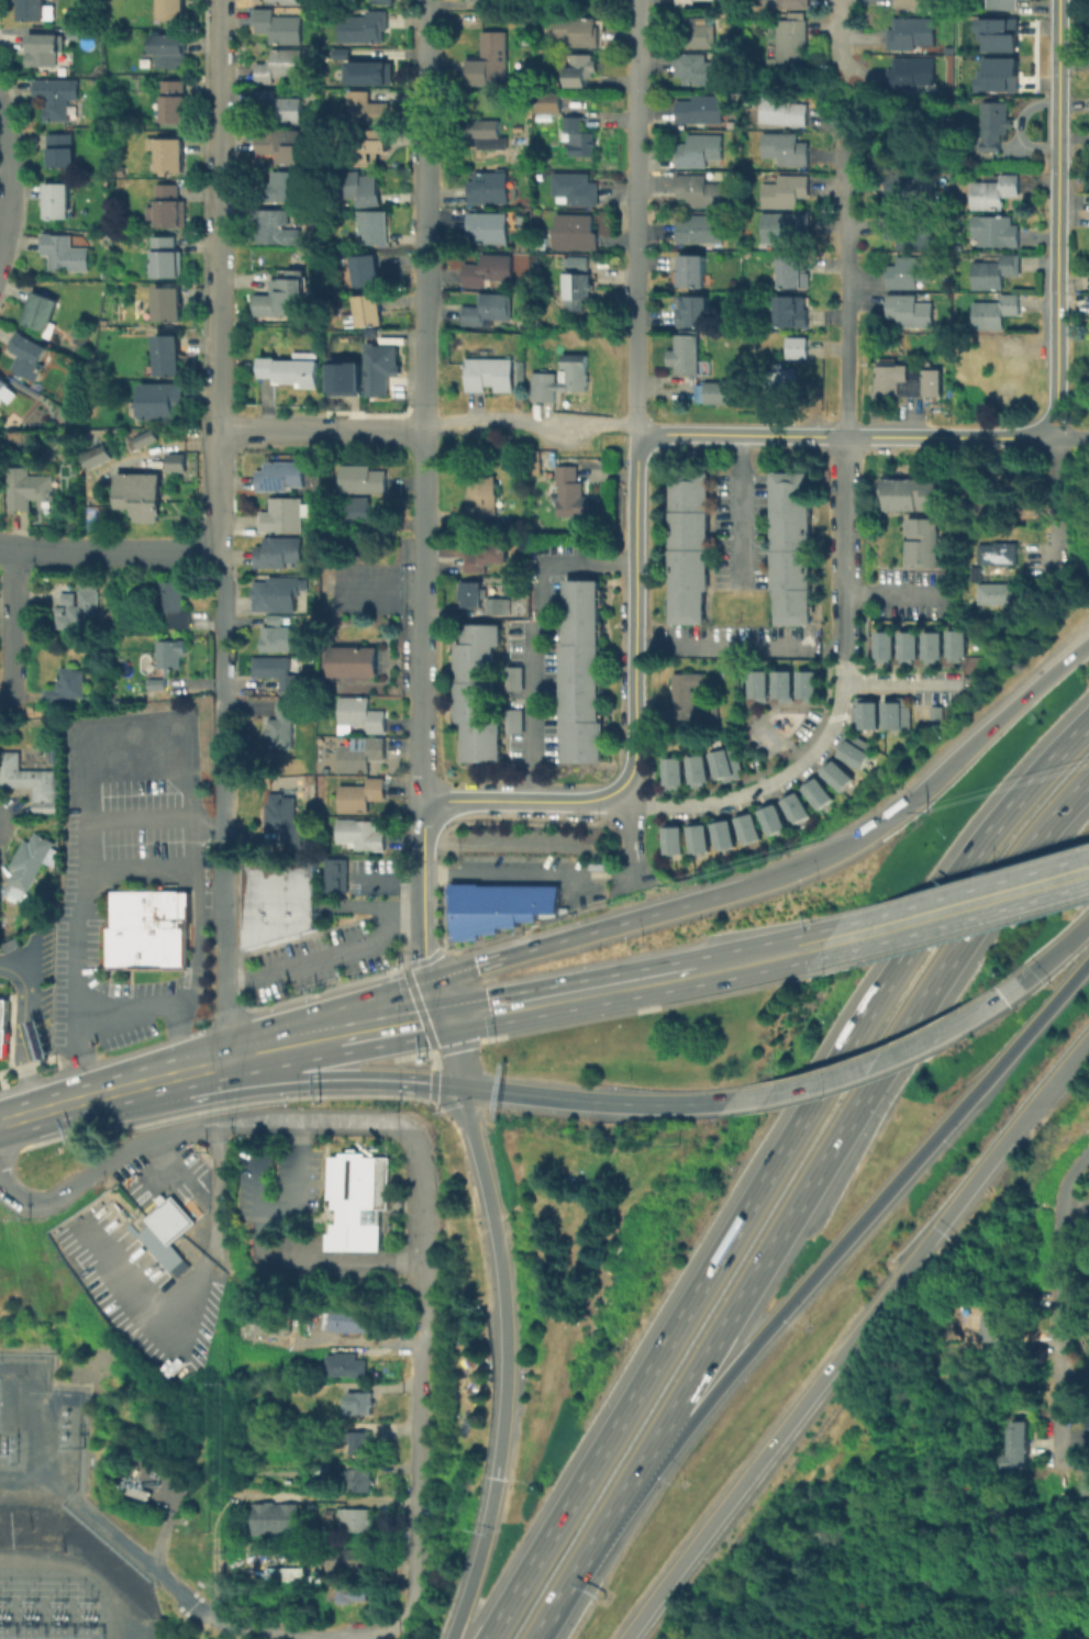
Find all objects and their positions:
building: (484, 0)
building: (287, 2)
building: (388, 2)
building: (785, 3)
building: (688, 4)
building: (914, 4)
building: (1004, 5)
building: (36, 11)
building: (173, 11)
building: (281, 30)
building: (363, 30)
building: (996, 33)
building: (691, 34)
building: (576, 35)
road: (840, 35)
building: (912, 35)
building: (787, 41)
building: (44, 52)
building: (169, 52)
building: (491, 62)
building: (281, 68)
building: (585, 68)
building: (364, 71)
building: (700, 71)
building: (910, 75)
building: (997, 75)
building: (57, 99)
building: (175, 103)
building: (547, 103)
building: (278, 110)
building: (368, 112)
building: (701, 112)
building: (784, 112)
building: (994, 126)
building: (487, 136)
building: (578, 137)
building: (367, 146)
building: (281, 147)
building: (788, 150)
building: (62, 153)
building: (701, 153)
building: (169, 156)
road: (10, 182)
building: (913, 183)
building: (362, 187)
building: (282, 189)
building: (490, 189)
building: (576, 190)
building: (788, 192)
building: (701, 193)
building: (993, 193)
building: (57, 203)
building: (170, 209)
road: (214, 214)
road: (634, 220)
road: (1057, 220)
building: (271, 226)
building: (786, 227)
building: (374, 228)
building: (487, 230)
building: (701, 231)
building: (996, 231)
building: (910, 233)
building: (574, 234)
building: (65, 255)
building: (167, 259)
building: (579, 265)
building: (490, 271)
building: (363, 272)
building: (796, 272)
building: (692, 274)
building: (910, 275)
building: (994, 275)
building: (579, 289)
building: (284, 298)
building: (168, 305)
building: (488, 310)
building: (365, 312)
building: (910, 312)
building: (43, 313)
building: (696, 313)
building: (791, 313)
building: (997, 313)
building: (798, 349)
building: (685, 354)
building: (168, 357)
building: (29, 358)
road: (846, 360)
building: (382, 366)
building: (292, 370)
building: (524, 371)
building: (577, 373)
building: (342, 376)
building: (491, 376)
building: (779, 381)
building: (908, 382)
building: (545, 388)
building: (7, 392)
building: (719, 394)
road: (420, 400)
building: (163, 402)
road: (533, 422)
road: (268, 430)
road: (370, 430)
road: (849, 438)
road: (1073, 439)
building: (142, 441)
building: (99, 457)
building: (178, 465)
building: (535, 468)
building: (281, 478)
road: (214, 480)
building: (364, 481)
building: (29, 488)
building: (908, 492)
building: (571, 493)
building: (138, 498)
building: (484, 502)
building: (976, 509)
road: (737, 510)
road: (1056, 510)
building: (355, 512)
building: (287, 516)
building: (921, 540)
building: (689, 549)
building: (794, 549)
road: (108, 550)
building: (994, 553)
building: (281, 554)
building: (488, 558)
building: (973, 570)
building: (994, 592)
road: (896, 593)
building: (470, 595)
building: (275, 596)
building: (176, 603)
building: (495, 605)
building: (79, 609)
road: (635, 615)
road: (12, 622)
road: (847, 631)
road: (531, 634)
building: (278, 637)
building: (954, 644)
building: (881, 645)
building: (907, 646)
building: (931, 646)
road: (720, 648)
building: (173, 656)
building: (351, 661)
building: (277, 672)
building: (584, 672)
road: (846, 672)
building: (478, 673)
building: (516, 681)
building: (757, 684)
building: (781, 684)
building: (805, 684)
road: (903, 684)
building: (69, 687)
building: (158, 687)
building: (686, 698)
building: (934, 712)
building: (863, 713)
building: (893, 715)
building: (360, 716)
building: (516, 723)
building: (284, 726)
road: (133, 727)
road: (222, 735)
road: (981, 740)
building: (484, 742)
building: (852, 749)
building: (54, 756)
building: (362, 757)
building: (724, 763)
road: (138, 768)
building: (696, 769)
building: (671, 770)
building: (834, 773)
building: (29, 781)
road: (764, 787)
building: (814, 791)
building: (360, 798)
road: (522, 802)
building: (792, 805)
road: (138, 816)
building: (769, 817)
building: (285, 822)
building: (745, 825)
building: (721, 832)
building: (363, 835)
building: (696, 836)
road: (632, 837)
building: (670, 837)
building: (30, 862)
road: (809, 866)
road: (138, 870)
road: (622, 870)
road: (510, 873)
road: (580, 874)
road: (597, 874)
building: (337, 876)
road: (422, 890)
building: (278, 899)
building: (497, 905)
road: (956, 911)
building: (147, 929)
road: (587, 930)
road: (1055, 955)
road: (324, 957)
road: (758, 958)
traffic signals: (432, 977)
road: (438, 994)
road: (569, 995)
road: (226, 999)
road: (418, 1006)
road: (129, 1012)
traffic signals: (446, 1013)
road: (333, 1014)
building: (3, 1025)
road: (378, 1025)
road: (23, 1032)
road: (275, 1048)
road: (427, 1057)
road: (226, 1059)
road: (881, 1061)
road: (434, 1066)
road: (322, 1081)
road: (447, 1085)
traffic signals: (460, 1088)
road: (107, 1091)
road: (593, 1102)
road: (852, 1118)
road: (314, 1122)
road: (101, 1167)
road: (774, 1170)
road: (296, 1180)
building: (359, 1198)
road: (865, 1219)
road: (492, 1222)
building: (148, 1223)
road: (421, 1229)
road: (271, 1260)
road: (1062, 1303)
building: (270, 1320)
building: (349, 1320)
building: (987, 1329)
road: (851, 1337)
road: (356, 1340)
building: (347, 1368)
road: (1077, 1382)
building: (362, 1404)
building: (1016, 1431)
building: (360, 1445)
road: (500, 1457)
building: (1014, 1457)
road: (415, 1464)
building: (1086, 1475)
building: (362, 1483)
road: (258, 1495)
building: (276, 1521)
building: (356, 1521)
power substation: (55, 1527)
road: (588, 1556)
building: (353, 1559)
road: (479, 1560)
building: (282, 1573)
building: (298, 1580)
building: (351, 1594)
road: (230, 1626)
road: (358, 1638)

